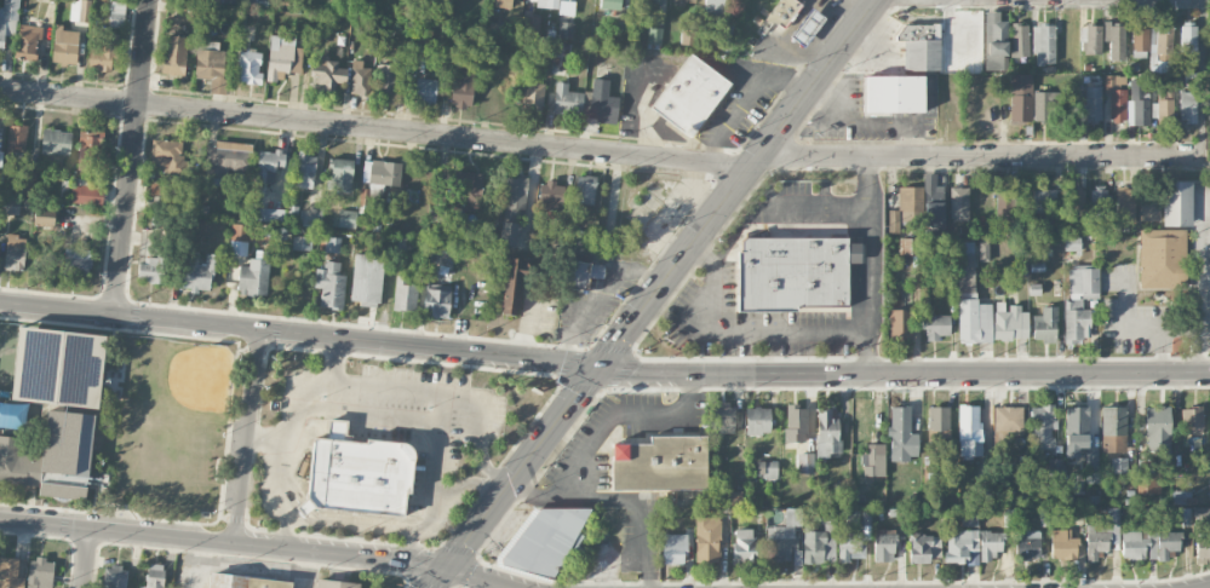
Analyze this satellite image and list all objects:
building: (652, 0)
building: (684, 0)
building: (247, 1)
building: (283, 2)
building: (503, 4)
building: (547, 4)
building: (609, 4)
building: (713, 6)
building: (782, 11)
building: (116, 15)
building: (796, 19)
building: (8, 21)
building: (805, 27)
building: (564, 29)
building: (654, 35)
building: (688, 36)
building: (1140, 38)
building: (1090, 39)
building: (1187, 39)
building: (1019, 40)
building: (1116, 40)
building: (1160, 40)
building: (27, 41)
building: (996, 41)
building: (1043, 44)
building: (65, 45)
building: (919, 46)
building: (103, 53)
building: (174, 54)
building: (282, 57)
building: (211, 64)
building: (248, 67)
building: (327, 73)
building: (359, 77)
building: (386, 79)
road: (1204, 79)
building: (461, 88)
building: (424, 90)
building: (689, 94)
building: (894, 94)
building: (1116, 96)
building: (532, 97)
building: (1021, 97)
building: (567, 99)
building: (600, 102)
building: (1093, 103)
building: (1137, 103)
building: (1044, 105)
building: (1164, 106)
building: (1187, 106)
road: (375, 128)
building: (16, 137)
building: (56, 142)
building: (92, 151)
building: (166, 156)
building: (0, 157)
road: (980, 157)
road: (133, 158)
building: (225, 161)
building: (266, 168)
building: (305, 169)
building: (382, 172)
building: (340, 174)
building: (470, 185)
building: (584, 189)
building: (86, 194)
building: (550, 195)
building: (1077, 198)
building: (1003, 201)
building: (1043, 201)
building: (933, 202)
building: (1099, 202)
building: (959, 203)
building: (1177, 203)
building: (8, 204)
building: (1125, 204)
road: (802, 206)
building: (906, 208)
building: (1149, 208)
building: (436, 215)
building: (345, 218)
building: (507, 234)
building: (239, 240)
road: (729, 243)
building: (329, 244)
building: (907, 246)
building: (984, 250)
building: (15, 253)
road: (703, 253)
building: (1162, 258)
building: (78, 261)
road: (871, 265)
building: (965, 267)
building: (150, 270)
building: (199, 272)
building: (793, 272)
building: (581, 273)
building: (253, 276)
building: (367, 278)
building: (1083, 279)
building: (329, 284)
road: (1200, 284)
building: (511, 286)
building: (405, 293)
road: (655, 294)
building: (436, 300)
building: (974, 322)
building: (1076, 322)
building: (1009, 323)
building: (899, 324)
building: (1044, 324)
building: (936, 327)
road: (759, 328)
traffic signals: (600, 370)
road: (603, 370)
road: (442, 388)
road: (299, 400)
building: (56, 409)
building: (12, 415)
building: (723, 417)
building: (937, 417)
building: (1008, 419)
road: (621, 420)
building: (757, 420)
building: (1192, 420)
building: (796, 423)
road: (482, 426)
building: (1042, 426)
building: (1113, 428)
building: (1157, 428)
building: (1076, 430)
building: (969, 431)
building: (826, 433)
road: (245, 434)
building: (901, 434)
building: (873, 460)
building: (805, 462)
building: (1091, 462)
building: (660, 463)
building: (1118, 465)
building: (1055, 467)
building: (767, 468)
building: (356, 473)
building: (1148, 483)
building: (1209, 490)
building: (984, 496)
road: (619, 500)
building: (1200, 515)
building: (969, 517)
road: (368, 523)
building: (1102, 535)
building: (782, 537)
building: (707, 540)
building: (549, 541)
road: (256, 542)
road: (411, 543)
building: (1134, 543)
building: (1166, 543)
building: (884, 544)
building: (1027, 544)
building: (1062, 544)
building: (746, 546)
building: (815, 546)
building: (850, 546)
building: (971, 546)
building: (923, 547)
building: (1203, 547)
building: (673, 548)
road: (88, 558)
building: (40, 572)
building: (10, 573)
building: (154, 576)
building: (114, 577)
building: (243, 582)
building: (336, 583)

